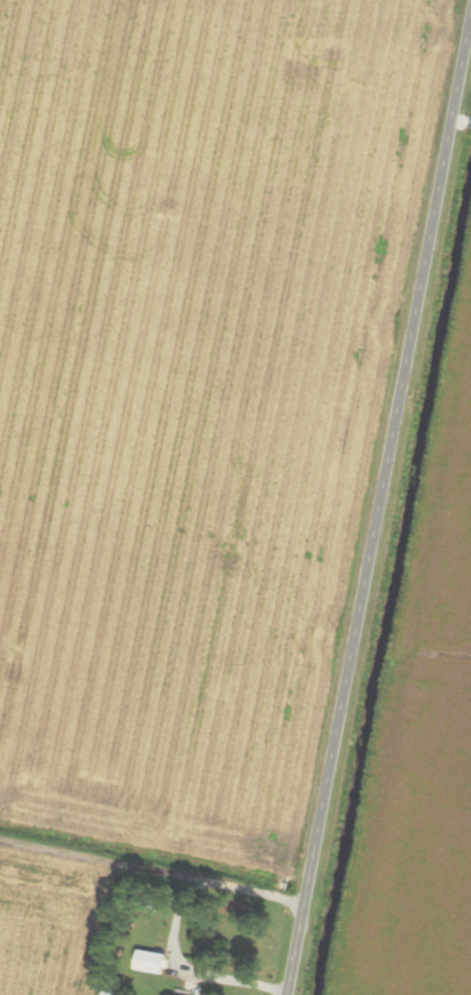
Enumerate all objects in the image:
road: (379, 512)
road: (153, 870)
building: (152, 963)
road: (234, 984)

